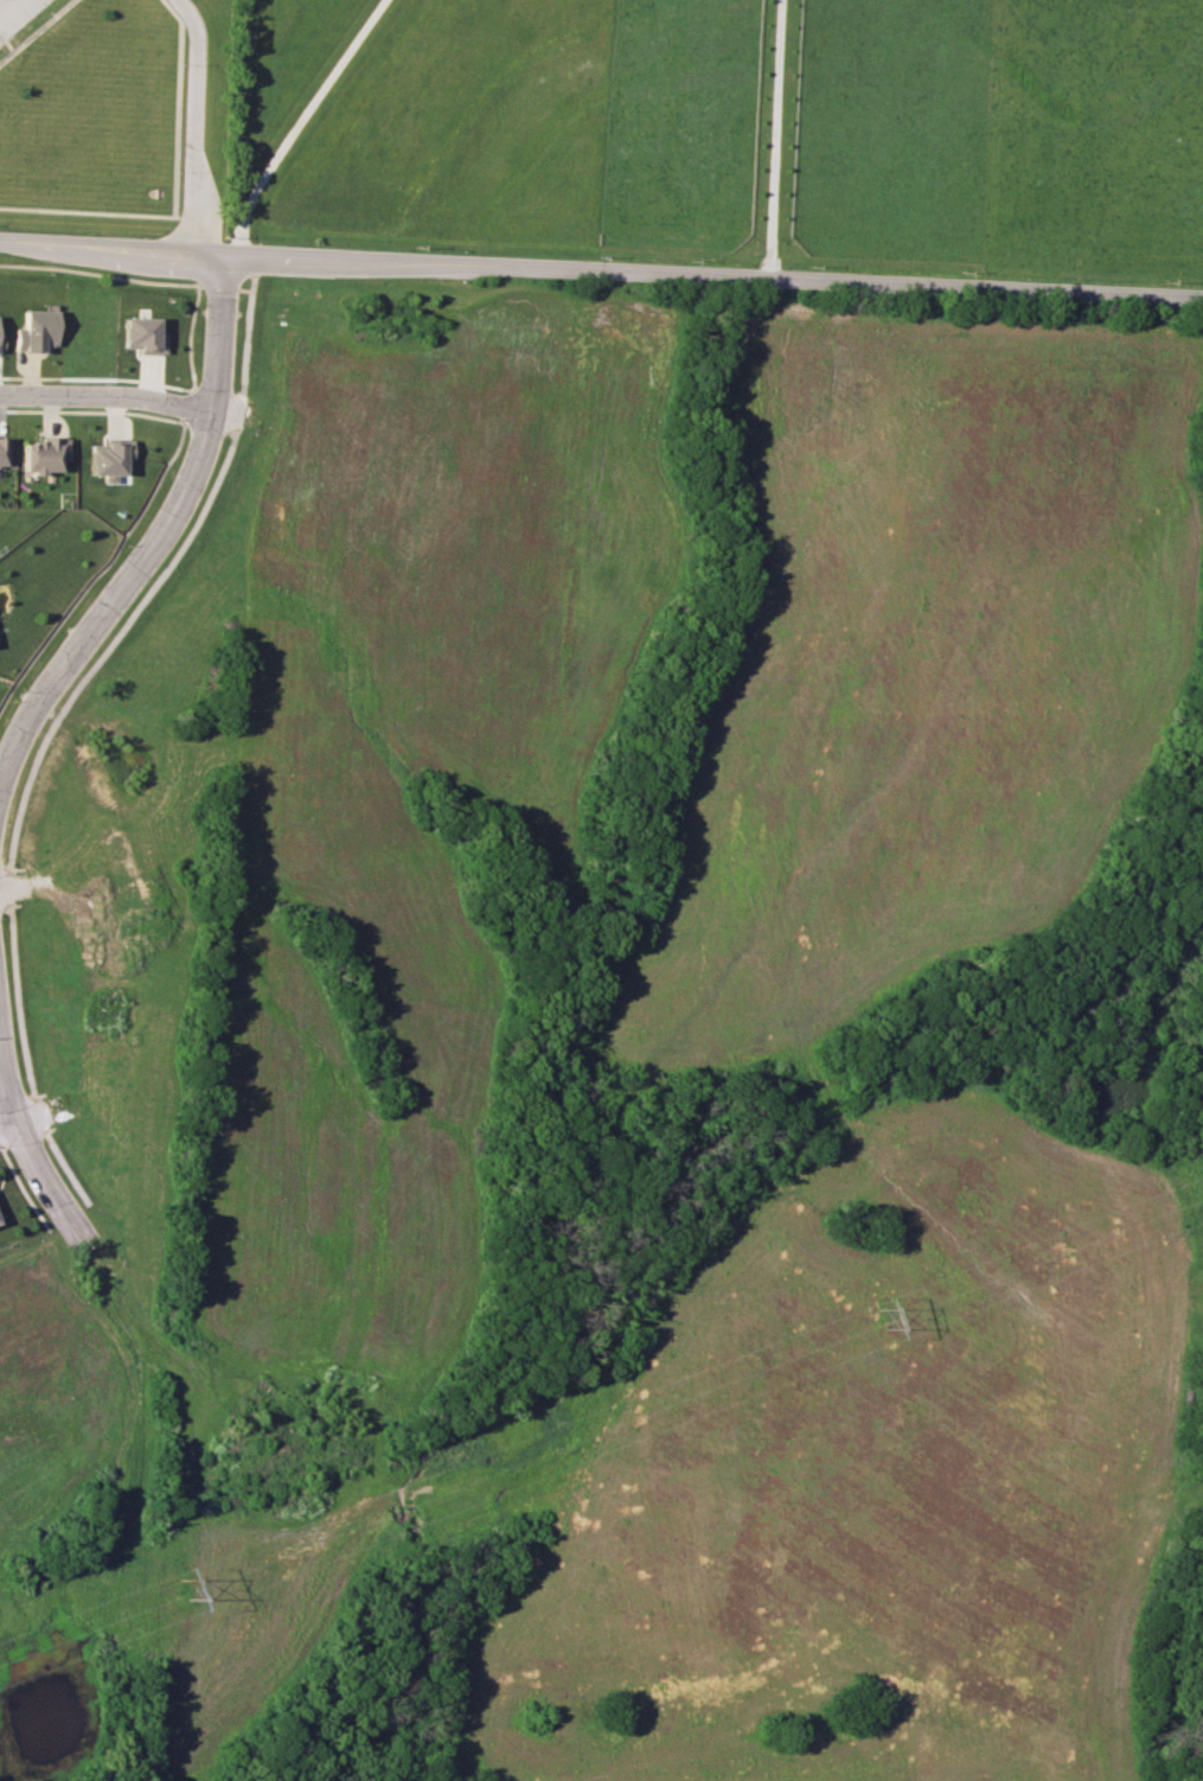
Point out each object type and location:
road: (5, 4)
road: (289, 122)
road: (193, 125)
road: (773, 140)
road: (601, 273)
building: (37, 331)
building: (142, 334)
building: (1, 340)
road: (107, 395)
building: (2, 451)
building: (44, 454)
building: (110, 457)
road: (156, 536)
road: (14, 886)
road: (9, 1126)
road: (31, 1153)
power tower: (883, 1316)
power tower: (185, 1583)

